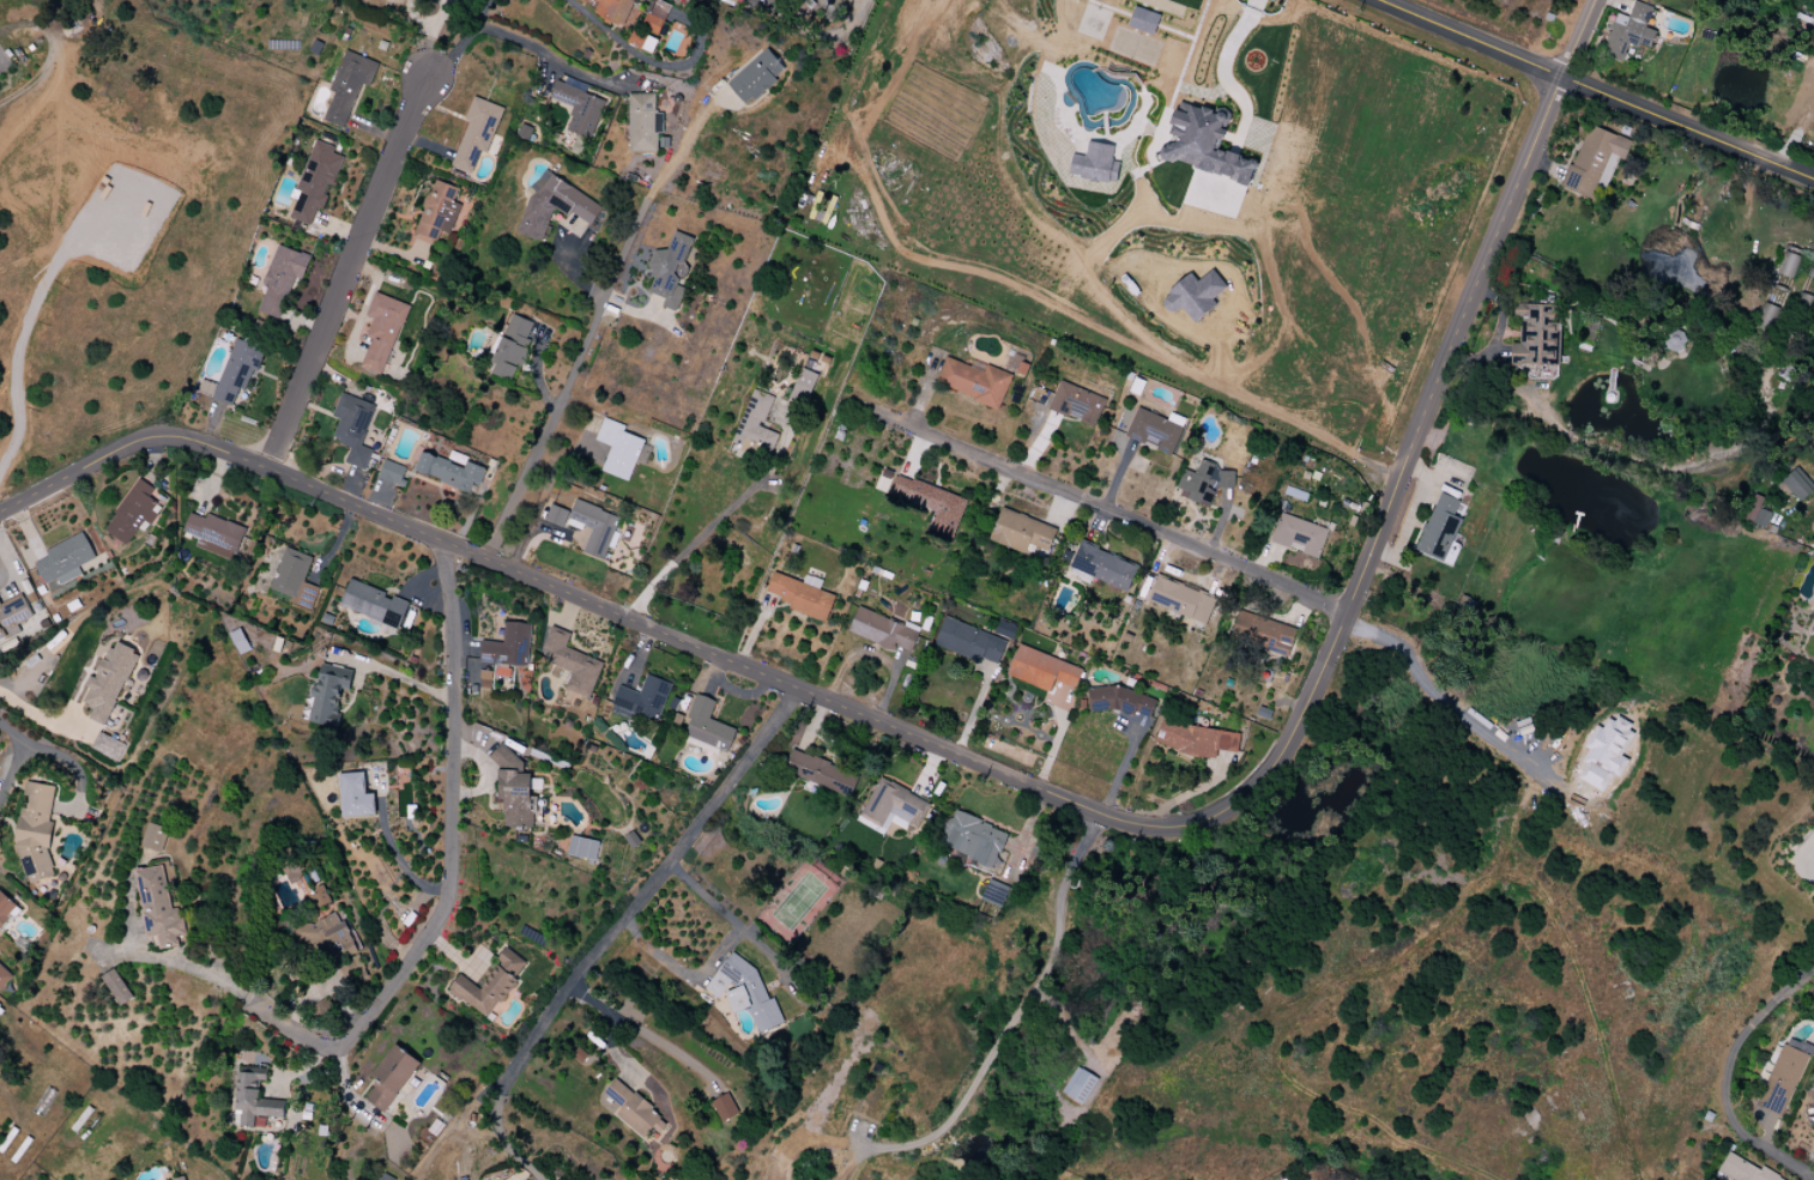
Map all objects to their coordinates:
building: (583, 0)
building: (733, 0)
building: (615, 11)
building: (657, 18)
building: (1143, 20)
building: (1629, 34)
road: (818, 35)
building: (642, 41)
road: (462, 42)
road: (548, 58)
building: (756, 77)
road: (1228, 78)
building: (349, 86)
road: (1595, 89)
building: (579, 109)
building: (643, 122)
building: (477, 133)
building: (1207, 143)
road: (678, 151)
building: (1592, 162)
building: (1095, 164)
building: (315, 181)
building: (555, 206)
building: (436, 213)
building: (1789, 261)
road: (346, 273)
building: (280, 278)
building: (1199, 296)
building: (382, 331)
road: (20, 334)
building: (1537, 334)
building: (512, 347)
building: (237, 370)
road: (568, 382)
building: (976, 382)
building: (803, 386)
building: (1138, 386)
building: (1077, 404)
road: (1423, 416)
road: (1286, 422)
building: (352, 428)
building: (755, 431)
building: (1155, 431)
building: (618, 449)
building: (448, 471)
building: (393, 472)
building: (1205, 483)
building: (1797, 484)
building: (938, 509)
road: (1109, 512)
building: (1756, 512)
building: (132, 513)
building: (556, 515)
building: (593, 527)
building: (1440, 528)
building: (214, 534)
building: (1023, 534)
building: (1300, 535)
building: (65, 559)
building: (1106, 567)
building: (290, 573)
building: (803, 598)
building: (1181, 601)
building: (373, 604)
road: (607, 610)
building: (13, 613)
building: (883, 631)
building: (1262, 633)
building: (240, 641)
building: (968, 642)
building: (508, 646)
building: (572, 662)
building: (1041, 668)
road: (399, 678)
building: (109, 682)
building: (327, 694)
road: (1434, 696)
building: (643, 698)
building: (1120, 701)
road: (30, 710)
building: (707, 725)
building: (1196, 739)
building: (107, 746)
building: (1604, 752)
building: (818, 773)
building: (514, 791)
building: (355, 797)
building: (891, 804)
road: (452, 817)
building: (35, 831)
building: (155, 837)
building: (973, 839)
building: (582, 848)
road: (393, 849)
road: (1810, 873)
road: (645, 892)
building: (994, 892)
building: (321, 895)
building: (5, 907)
building: (158, 908)
building: (334, 937)
road: (716, 956)
building: (4, 976)
building: (489, 985)
building: (117, 987)
road: (238, 990)
building: (744, 992)
road: (1018, 1013)
road: (610, 1017)
road: (1728, 1075)
building: (1784, 1076)
building: (391, 1077)
building: (1080, 1085)
building: (255, 1102)
building: (724, 1108)
building: (634, 1112)
road: (812, 1143)
road: (852, 1167)
building: (1742, 1170)
building: (181, 1179)

